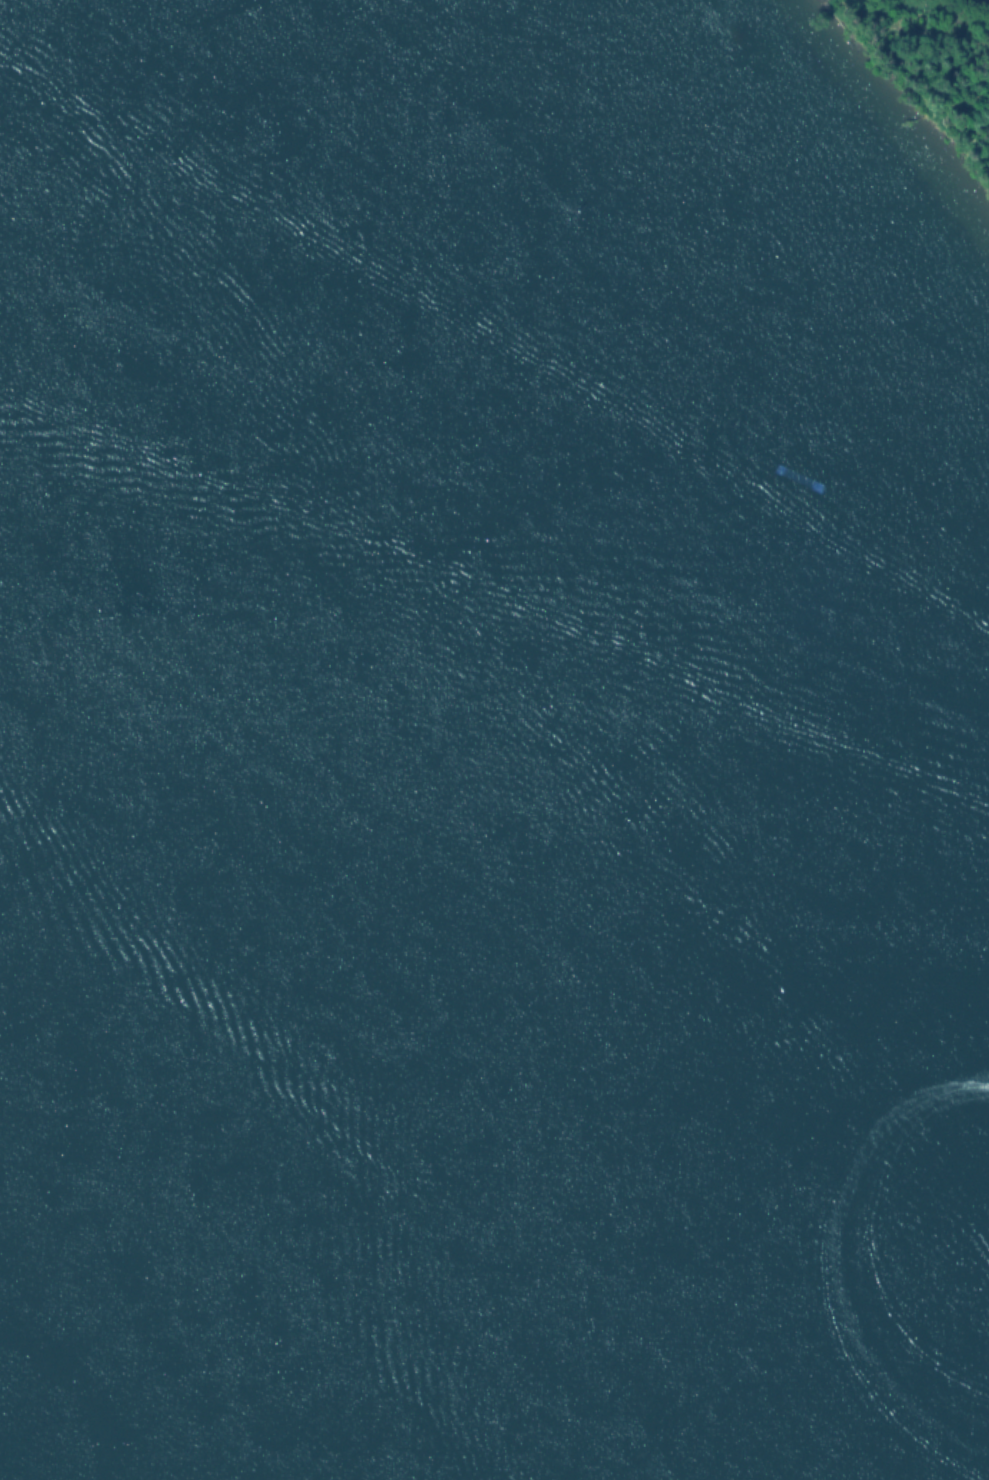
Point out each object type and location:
park: (928, 75)
river: (110, 1310)

